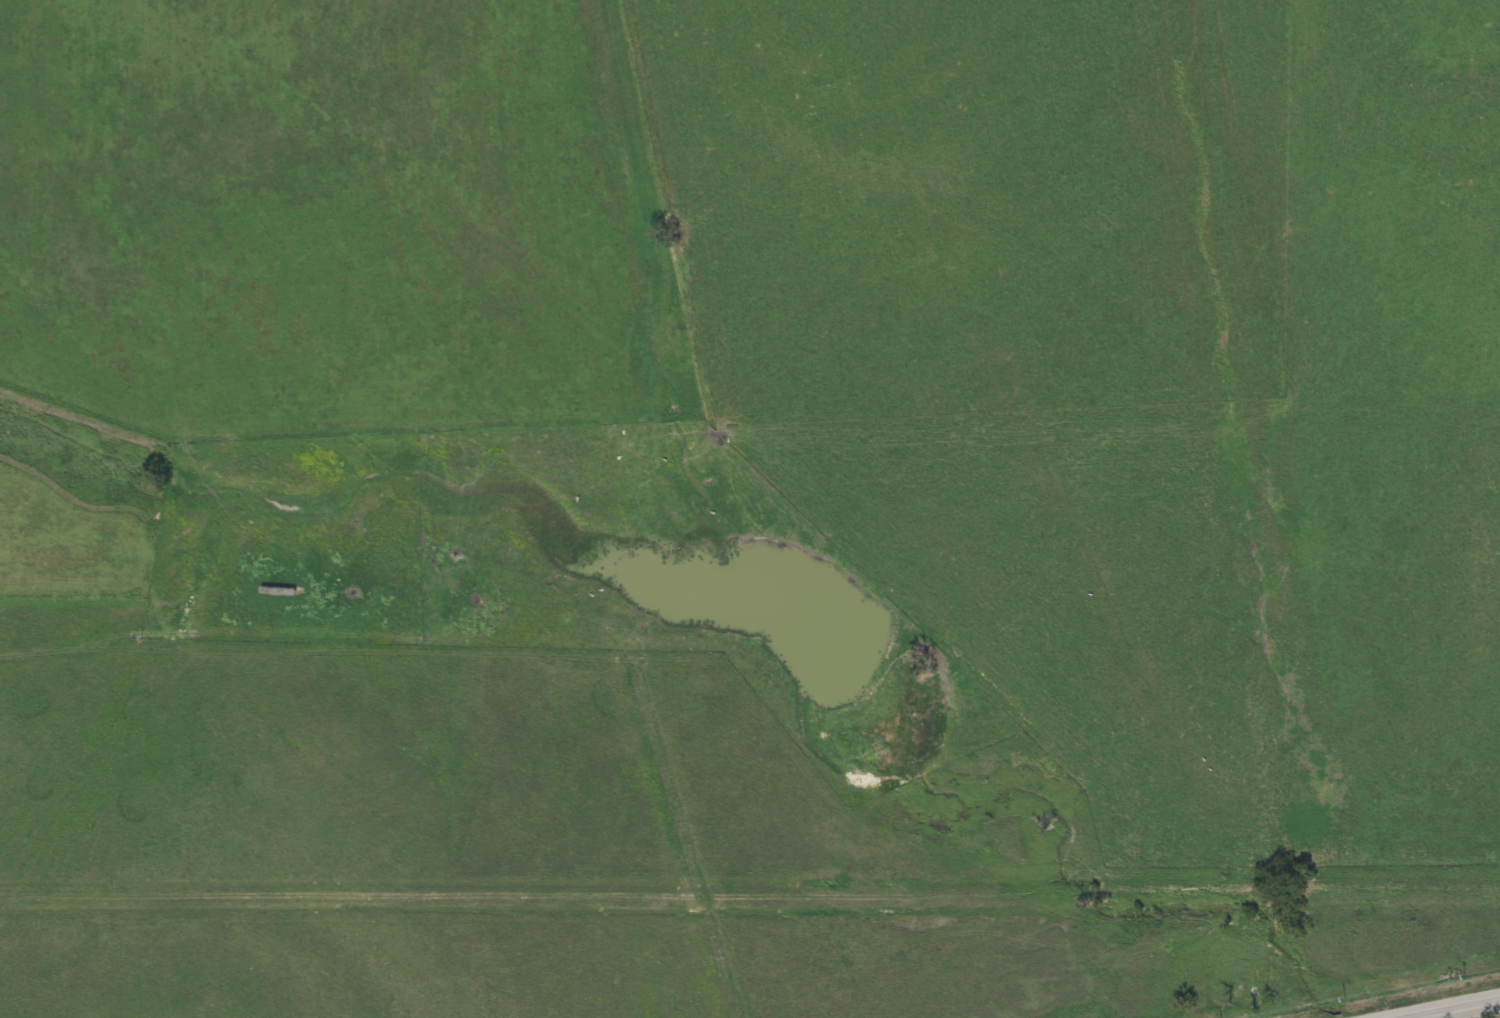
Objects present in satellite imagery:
road: (1461, 1010)

